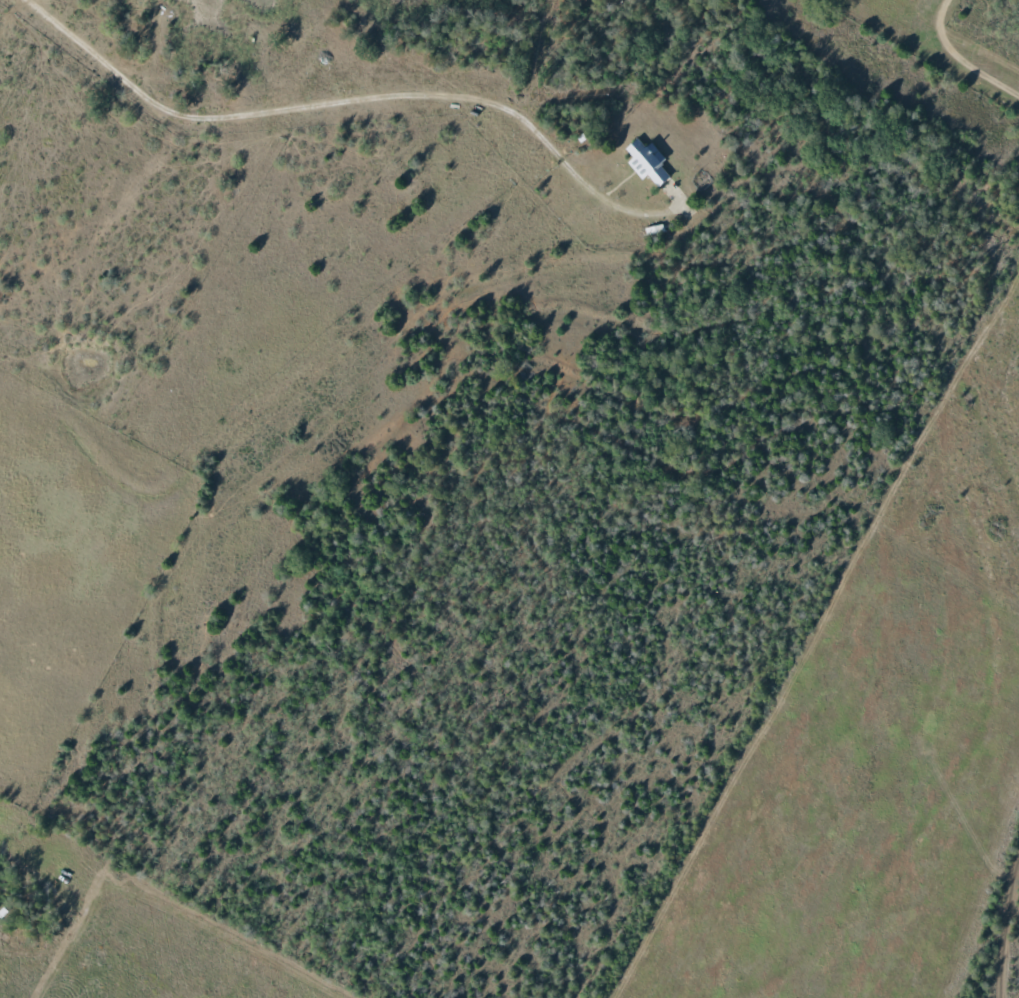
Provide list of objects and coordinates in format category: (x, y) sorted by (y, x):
road: (352, 99)
building: (646, 161)

